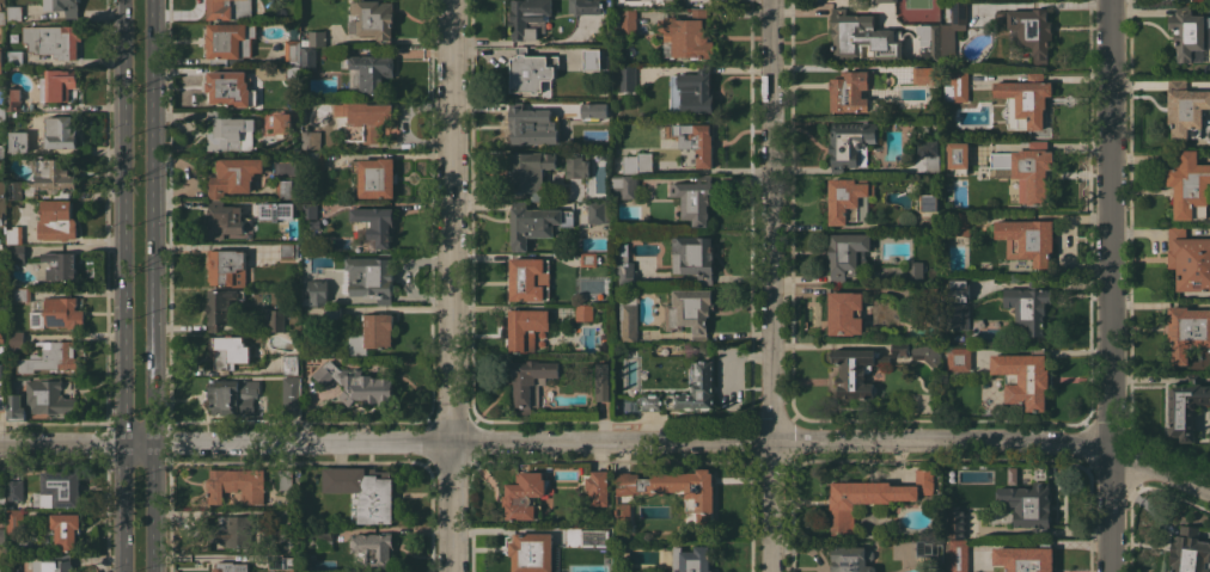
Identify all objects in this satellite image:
building: (1185, 0)
building: (885, 1)
road: (1041, 1)
building: (1, 4)
building: (945, 5)
building: (63, 6)
building: (583, 6)
building: (228, 8)
building: (13, 13)
building: (2, 17)
building: (528, 18)
building: (372, 19)
building: (623, 21)
building: (953, 30)
building: (1028, 30)
building: (293, 32)
building: (1187, 32)
building: (687, 35)
building: (862, 37)
building: (314, 38)
building: (53, 39)
building: (228, 41)
building: (929, 42)
building: (292, 51)
building: (308, 56)
building: (13, 57)
building: (1, 60)
building: (594, 60)
building: (371, 70)
building: (531, 70)
building: (292, 72)
building: (917, 72)
building: (627, 78)
building: (352, 79)
building: (56, 84)
building: (957, 86)
building: (231, 88)
building: (935, 88)
building: (691, 91)
building: (851, 92)
building: (322, 94)
building: (13, 99)
building: (1027, 99)
building: (1008, 107)
building: (1185, 109)
building: (597, 110)
building: (2, 112)
building: (362, 119)
building: (282, 122)
building: (528, 124)
building: (57, 131)
building: (230, 133)
building: (310, 140)
building: (19, 141)
building: (696, 141)
building: (849, 142)
building: (2, 150)
building: (927, 152)
building: (958, 156)
building: (316, 160)
building: (636, 162)
building: (576, 166)
building: (1027, 170)
building: (530, 171)
building: (233, 176)
building: (375, 177)
building: (44, 179)
building: (625, 185)
building: (1190, 186)
building: (2, 187)
building: (283, 189)
building: (693, 198)
building: (845, 198)
building: (928, 201)
building: (286, 205)
building: (2, 210)
building: (308, 210)
building: (597, 213)
building: (225, 217)
building: (57, 220)
road: (151, 221)
building: (959, 222)
building: (312, 223)
building: (375, 223)
building: (534, 223)
building: (14, 234)
building: (1027, 239)
building: (288, 250)
building: (17, 252)
building: (845, 254)
building: (695, 256)
building: (1188, 258)
building: (588, 259)
building: (60, 265)
building: (226, 266)
building: (627, 272)
building: (915, 272)
building: (371, 277)
building: (524, 279)
road: (123, 285)
road: (451, 285)
road: (771, 285)
road: (1110, 285)
building: (959, 290)
building: (316, 293)
building: (22, 294)
building: (2, 296)
building: (929, 301)
building: (221, 307)
building: (1028, 307)
building: (689, 310)
building: (583, 312)
building: (843, 313)
building: (57, 314)
building: (331, 314)
building: (954, 315)
building: (276, 320)
building: (629, 320)
building: (526, 327)
building: (1187, 331)
building: (373, 333)
building: (0, 334)
building: (14, 340)
building: (899, 347)
building: (228, 350)
building: (927, 353)
building: (49, 357)
building: (959, 358)
building: (291, 364)
building: (0, 370)
building: (856, 371)
building: (1023, 377)
building: (604, 380)
building: (531, 382)
building: (355, 383)
building: (696, 388)
building: (292, 395)
building: (232, 396)
building: (48, 398)
building: (650, 401)
building: (2, 404)
building: (14, 407)
building: (1187, 407)
road: (609, 441)
building: (285, 479)
building: (236, 485)
building: (597, 487)
building: (672, 487)
building: (61, 488)
building: (14, 490)
building: (363, 491)
building: (526, 496)
building: (870, 497)
building: (2, 498)
building: (1029, 505)
road: (151, 506)
building: (623, 511)
building: (16, 521)
building: (957, 524)
building: (66, 529)
building: (233, 533)
building: (281, 533)
building: (324, 533)
building: (2, 535)
building: (583, 537)
building: (927, 547)
building: (374, 551)
building: (1190, 551)
building: (532, 552)
building: (958, 555)
building: (850, 558)
building: (1025, 558)
building: (692, 559)
building: (281, 562)
building: (54, 564)
building: (230, 566)
building: (0, 570)

